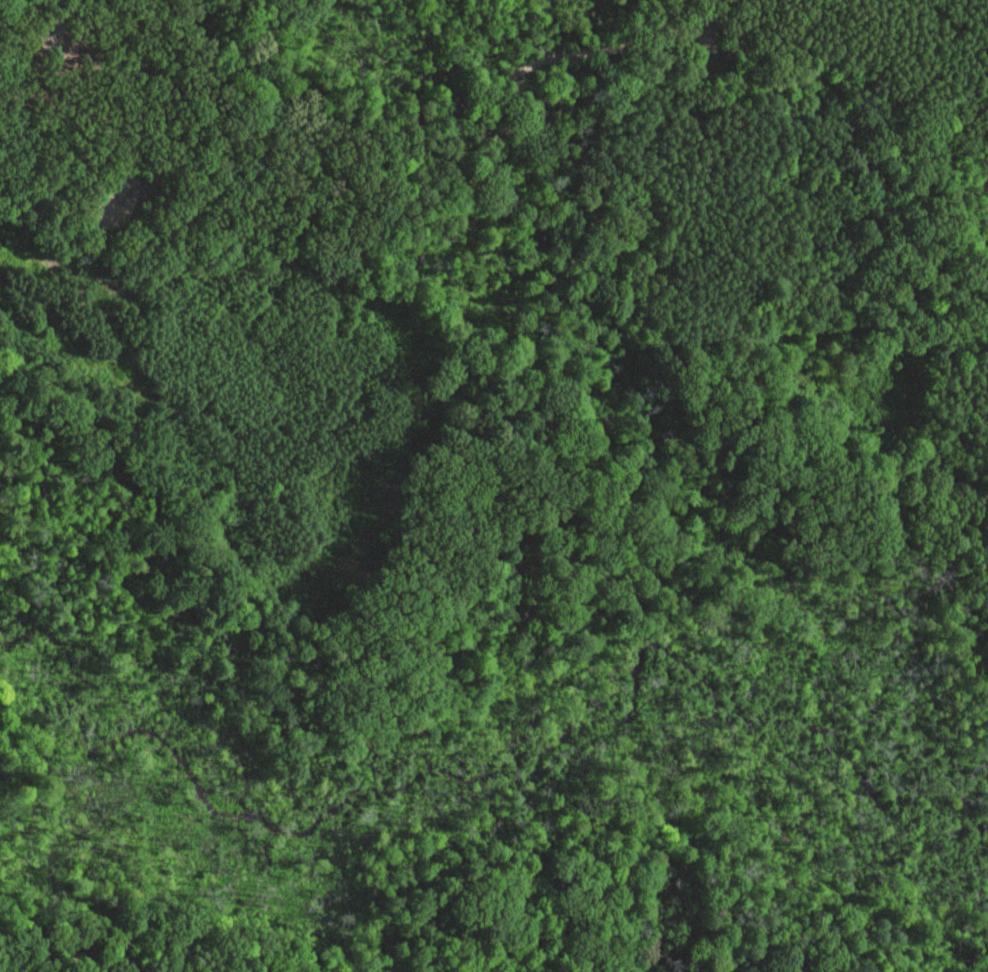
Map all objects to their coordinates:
road: (362, 128)

